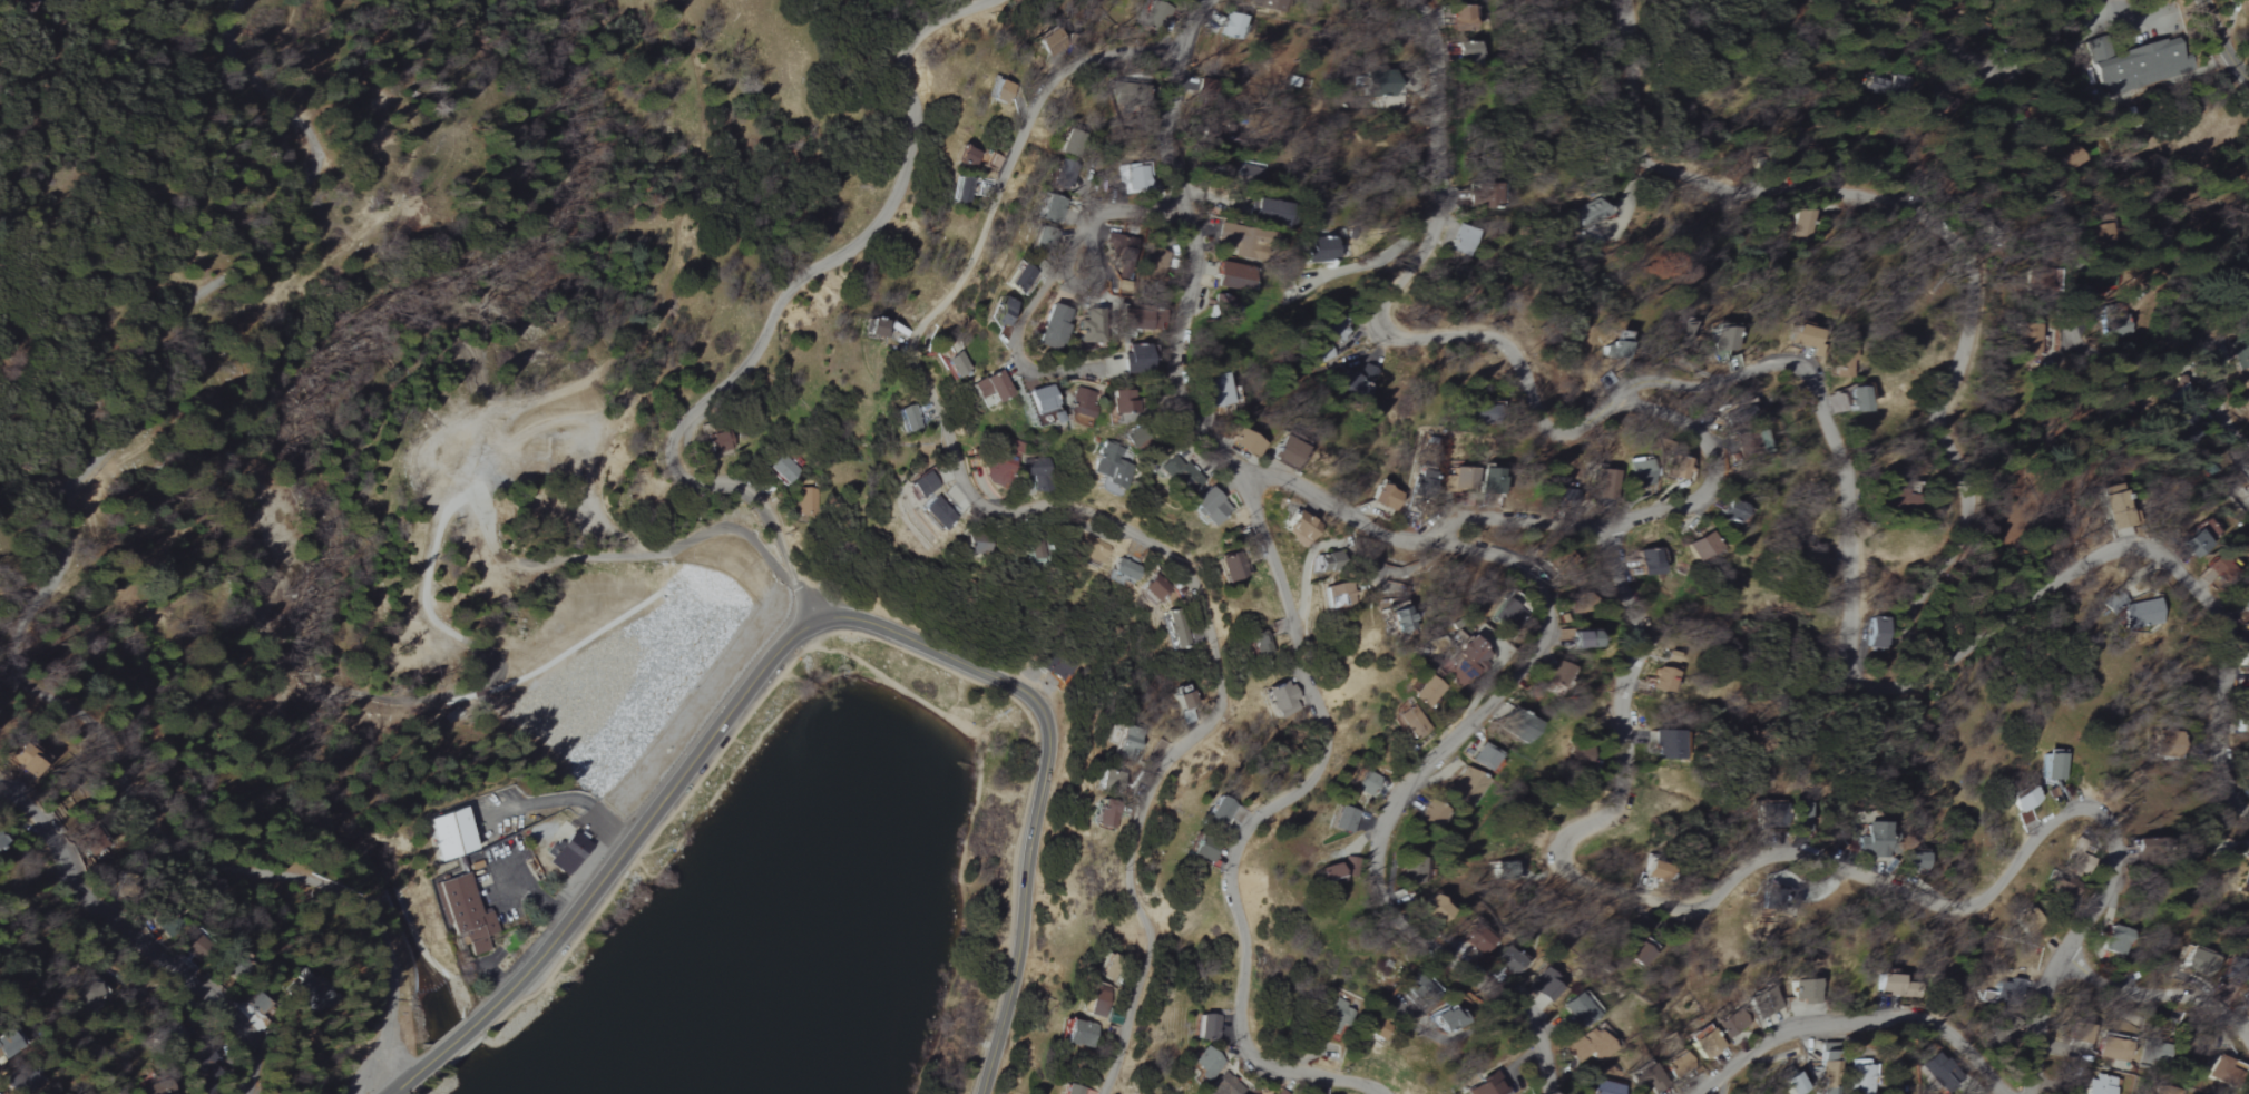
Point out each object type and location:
building: (1461, 18)
road: (1205, 22)
building: (1233, 27)
road: (2226, 39)
building: (1055, 43)
building: (1467, 55)
building: (2142, 67)
building: (1888, 87)
building: (1000, 91)
building: (1073, 147)
building: (968, 156)
building: (2064, 156)
building: (1251, 174)
building: (1134, 182)
building: (961, 191)
building: (1591, 212)
building: (1052, 213)
building: (1270, 213)
road: (2060, 215)
road: (1989, 218)
building: (1461, 240)
building: (1244, 244)
building: (1119, 247)
building: (1321, 250)
building: (1020, 274)
building: (1233, 279)
road: (1044, 287)
building: (1222, 305)
building: (999, 307)
road: (774, 309)
building: (1052, 322)
building: (1088, 324)
building: (873, 326)
building: (1336, 329)
building: (1807, 338)
building: (2027, 340)
building: (1617, 346)
building: (2241, 352)
building: (1324, 353)
building: (1135, 356)
building: (954, 362)
building: (1359, 379)
building: (987, 385)
building: (1218, 389)
building: (1040, 399)
building: (1122, 399)
building: (1857, 400)
building: (1081, 401)
road: (1610, 414)
building: (911, 419)
building: (718, 441)
building: (1248, 441)
building: (1757, 442)
building: (1288, 451)
building: (1109, 467)
building: (1679, 467)
building: (785, 468)
building: (997, 470)
building: (1639, 470)
building: (1035, 473)
building: (1426, 473)
building: (1460, 477)
building: (1605, 477)
building: (1492, 479)
building: (921, 483)
building: (648, 486)
building: (1387, 497)
road: (80, 502)
building: (810, 502)
building: (1210, 506)
building: (2119, 506)
building: (2246, 506)
road: (1070, 508)
building: (1733, 511)
building: (937, 512)
road: (593, 514)
road: (1647, 515)
building: (1299, 528)
building: (2197, 539)
building: (976, 543)
building: (1702, 546)
building: (1035, 549)
road: (646, 555)
building: (1326, 560)
building: (1649, 561)
building: (1232, 566)
building: (2219, 566)
building: (1126, 569)
road: (2183, 580)
building: (493, 585)
building: (1155, 587)
building: (1334, 594)
building: (2245, 598)
building: (1503, 609)
road: (1289, 614)
building: (2138, 614)
building: (1394, 616)
building: (1175, 629)
road: (795, 631)
building: (1876, 633)
building: (1580, 638)
building: (2248, 638)
building: (1261, 646)
road: (855, 668)
building: (1561, 673)
building: (1662, 680)
building: (1419, 688)
building: (1282, 699)
building: (1187, 700)
road: (1480, 717)
building: (1406, 721)
building: (1130, 742)
building: (1665, 744)
building: (1485, 755)
building: (1581, 758)
building: (2054, 764)
building: (29, 766)
road: (1045, 778)
building: (1113, 781)
building: (1366, 782)
road: (1029, 787)
building: (1466, 787)
building: (2024, 799)
road: (537, 802)
road: (707, 804)
building: (1220, 812)
road: (676, 813)
building: (1107, 813)
building: (1429, 814)
building: (1344, 819)
road: (613, 821)
building: (448, 833)
building: (1874, 839)
building: (2, 841)
road: (2228, 843)
building: (1202, 848)
building: (569, 853)
road: (1801, 857)
building: (1918, 859)
building: (1337, 870)
building: (1658, 871)
building: (1415, 873)
road: (960, 875)
road: (598, 881)
road: (76, 885)
park: (799, 903)
building: (1437, 909)
building: (463, 912)
building: (1479, 939)
building: (2118, 940)
building: (1508, 959)
building: (2199, 960)
building: (1891, 984)
building: (1545, 985)
building: (2013, 988)
building: (1805, 992)
road: (2159, 995)
building: (1769, 1003)
building: (1099, 1005)
building: (1580, 1009)
building: (1336, 1013)
building: (1445, 1019)
road: (1850, 1019)
road: (235, 1020)
building: (1731, 1024)
building: (1205, 1027)
building: (1083, 1034)
road: (477, 1038)
building: (1709, 1041)
building: (9, 1044)
building: (1593, 1047)
building: (2114, 1049)
building: (1205, 1063)
building: (1684, 1065)
building: (1831, 1068)
building: (1938, 1072)
building: (1650, 1075)
building: (1793, 1084)
building: (1224, 1085)
building: (2099, 1085)
building: (1488, 1086)
building: (1608, 1086)
building: (1074, 1090)
building: (268, 1092)
building: (1279, 1092)
building: (1250, 1093)

